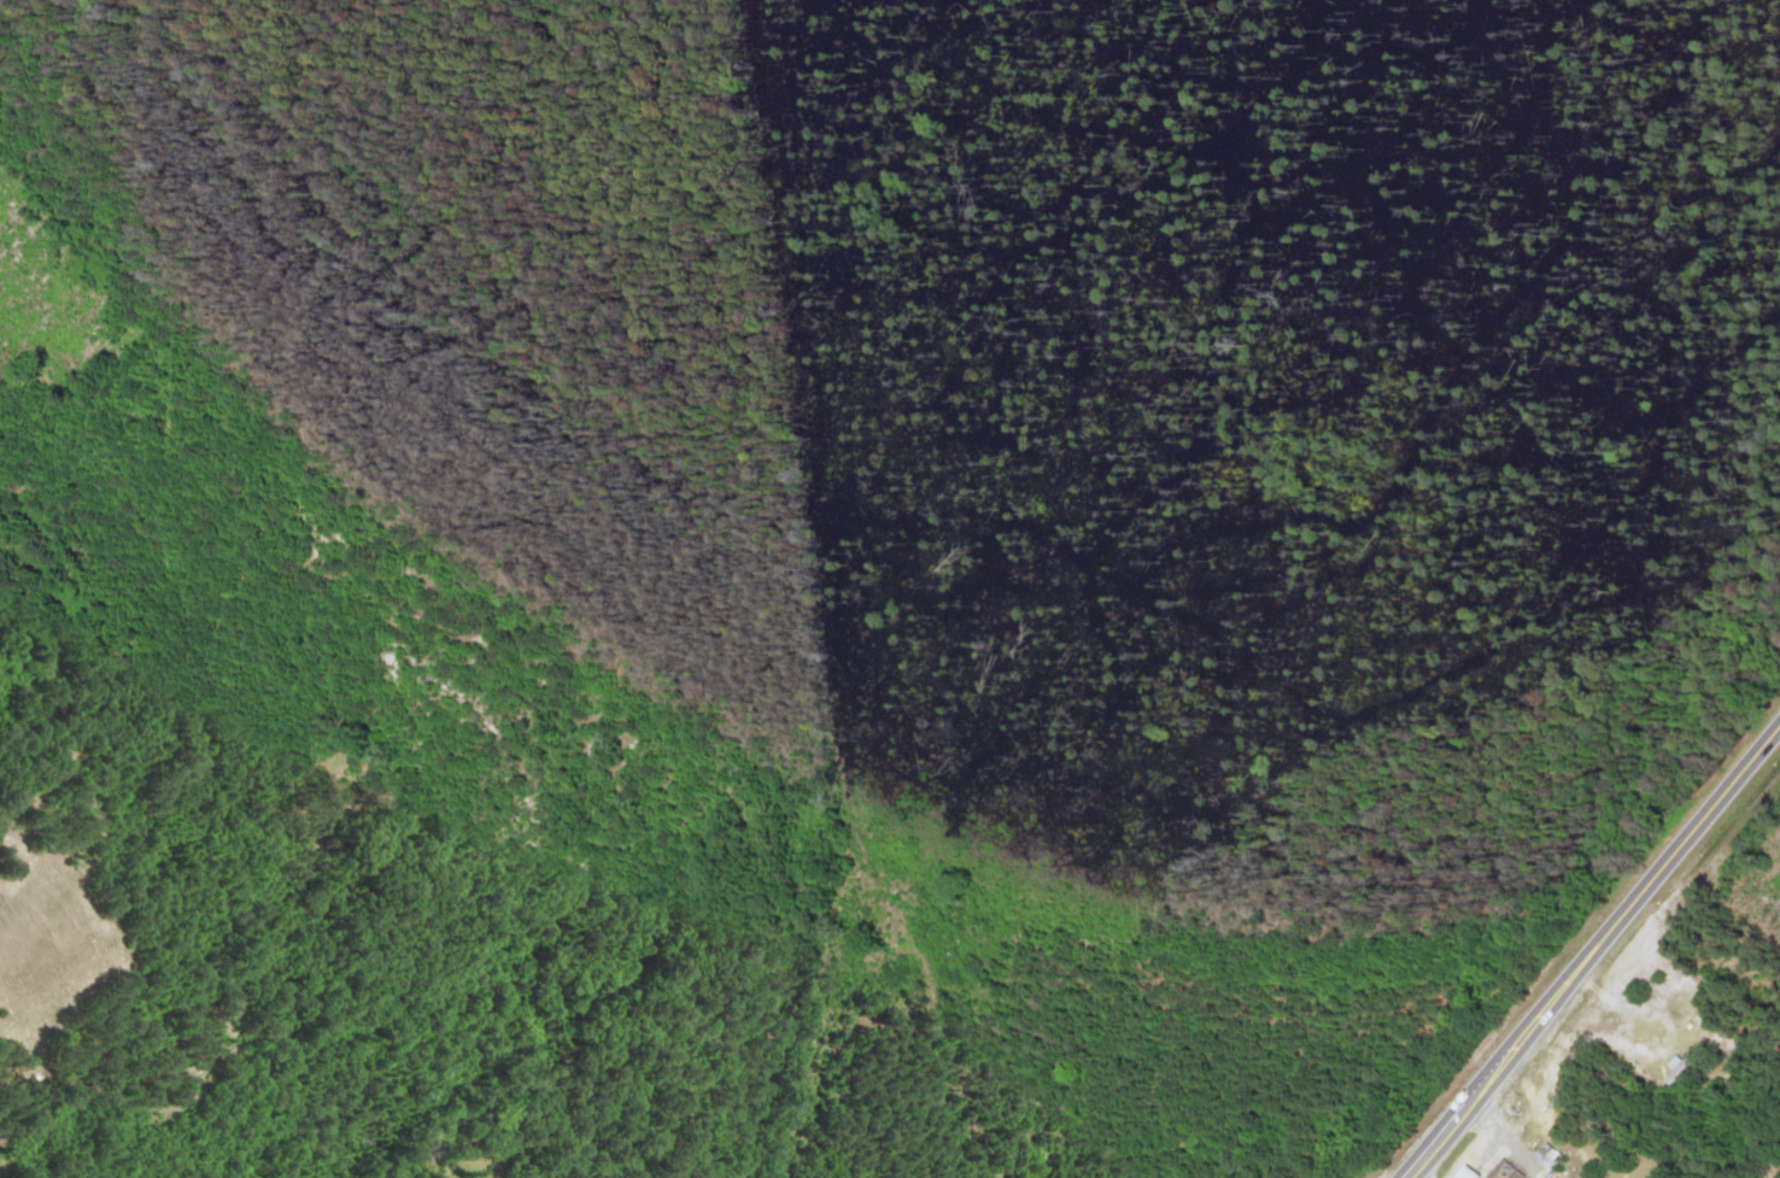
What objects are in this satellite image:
road: (1593, 951)
building: (1684, 1062)
building: (1544, 1156)
building: (1459, 1173)

